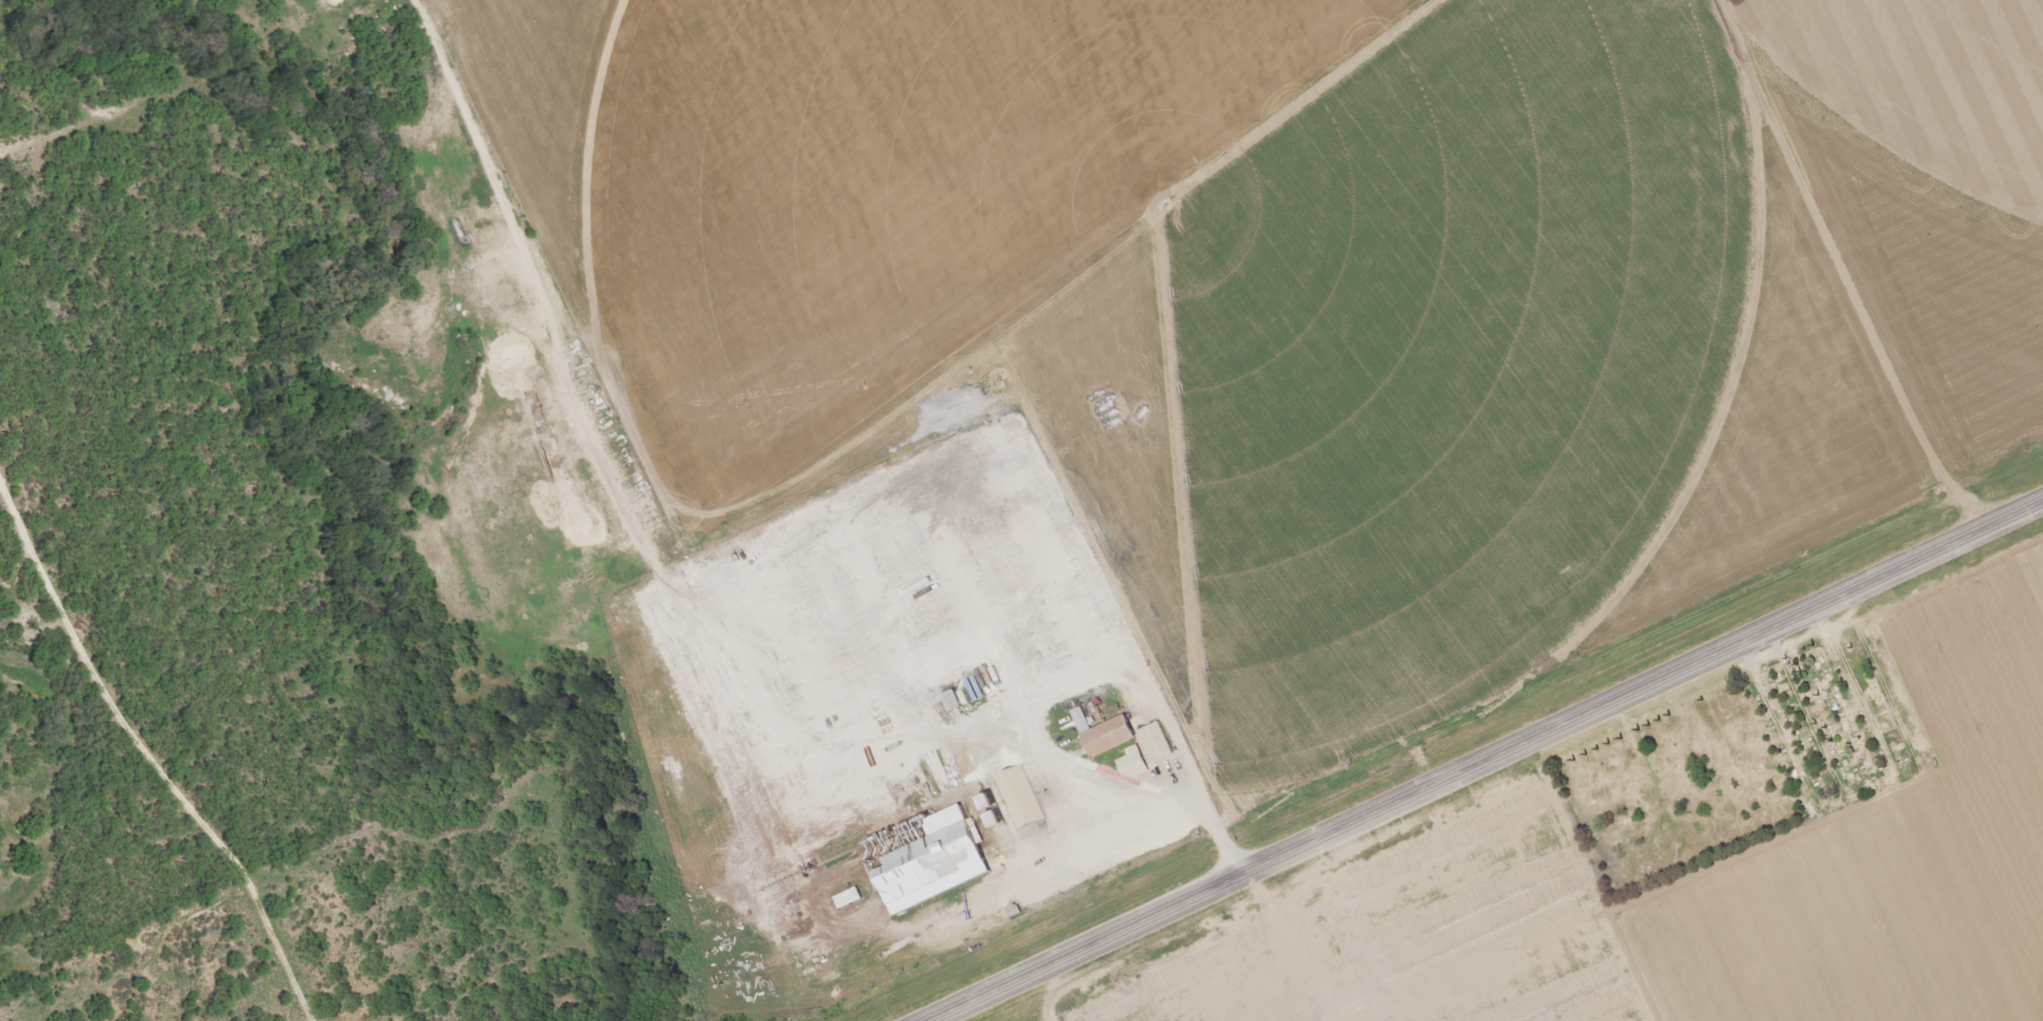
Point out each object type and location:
road: (1130, 636)
building: (956, 702)
building: (1083, 721)
park: (1827, 726)
road: (1028, 731)
building: (1131, 740)
road: (1484, 760)
building: (1134, 764)
road: (1152, 790)
road: (136, 793)
park: (1671, 793)
building: (938, 869)

